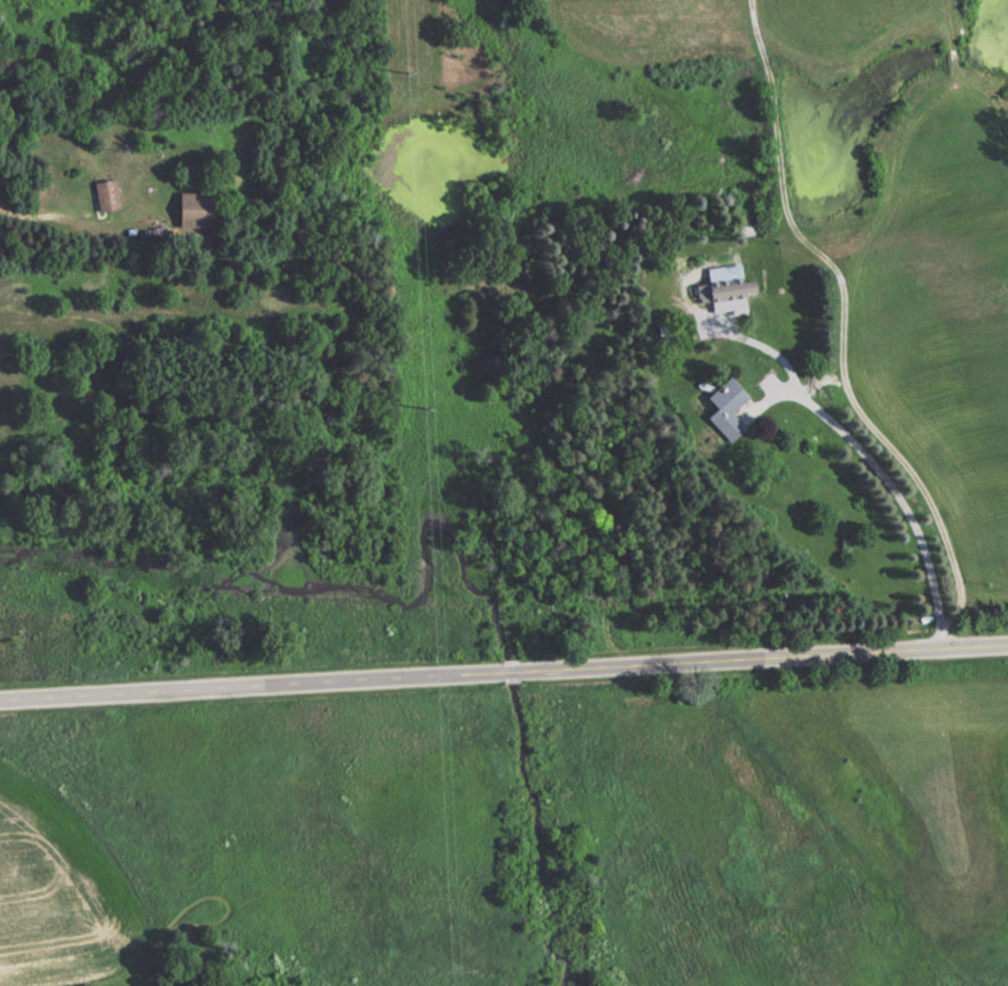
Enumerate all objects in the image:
power tower: (412, 74)
building: (104, 193)
building: (191, 210)
road: (49, 218)
power tower: (426, 424)
road: (872, 464)
road: (915, 477)
road: (503, 670)

